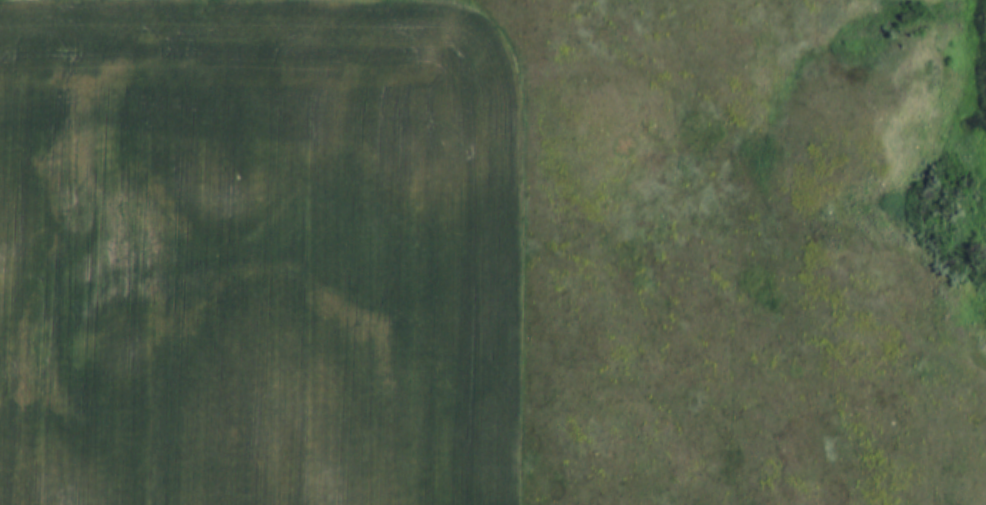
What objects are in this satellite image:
road: (834, 362)

